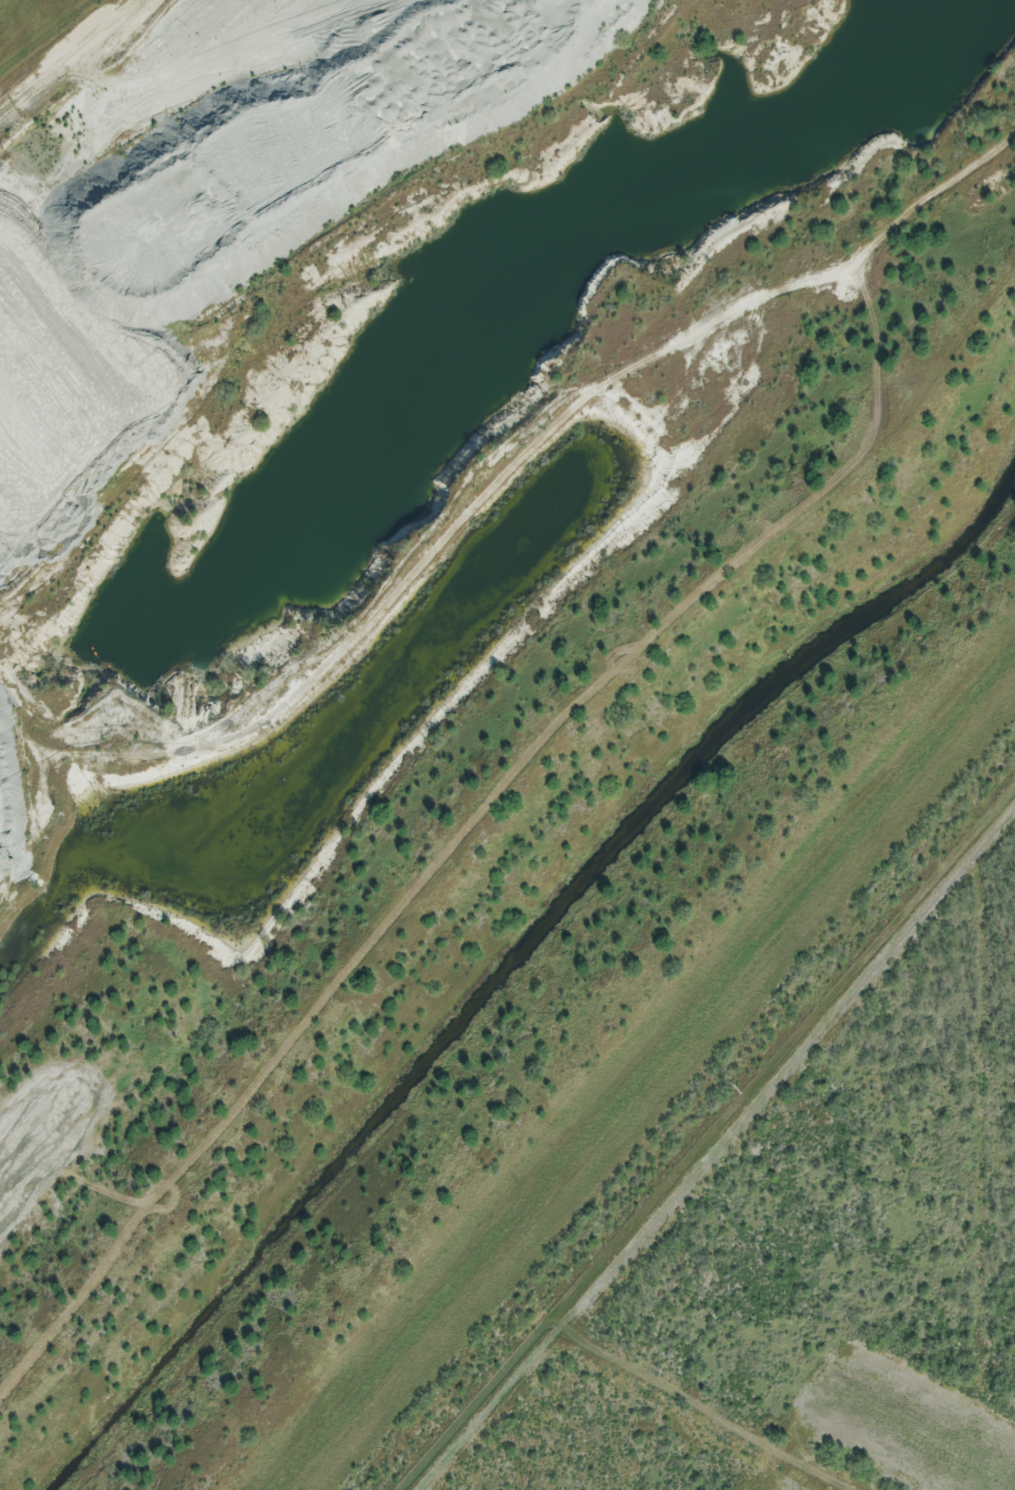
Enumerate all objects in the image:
quarry: (392, 418)
power tower: (723, 1090)
road: (730, 1395)

